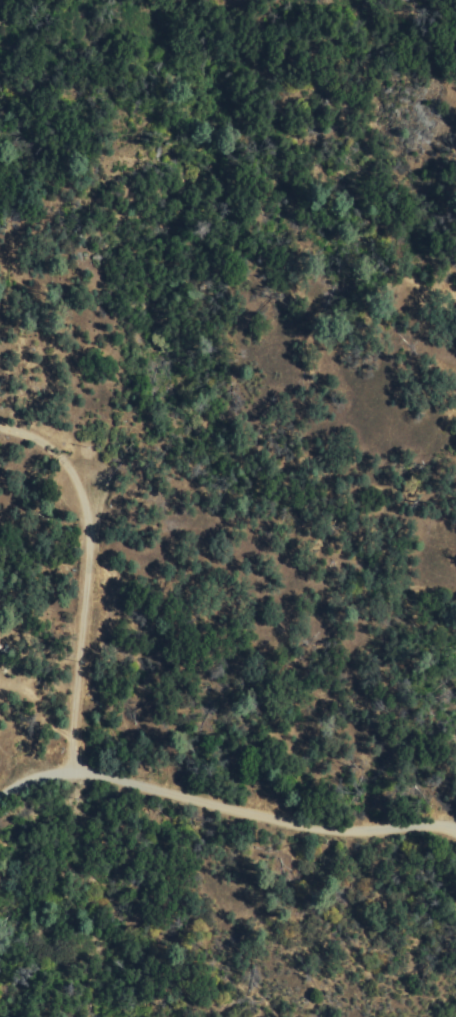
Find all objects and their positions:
road: (76, 585)
road: (223, 803)

